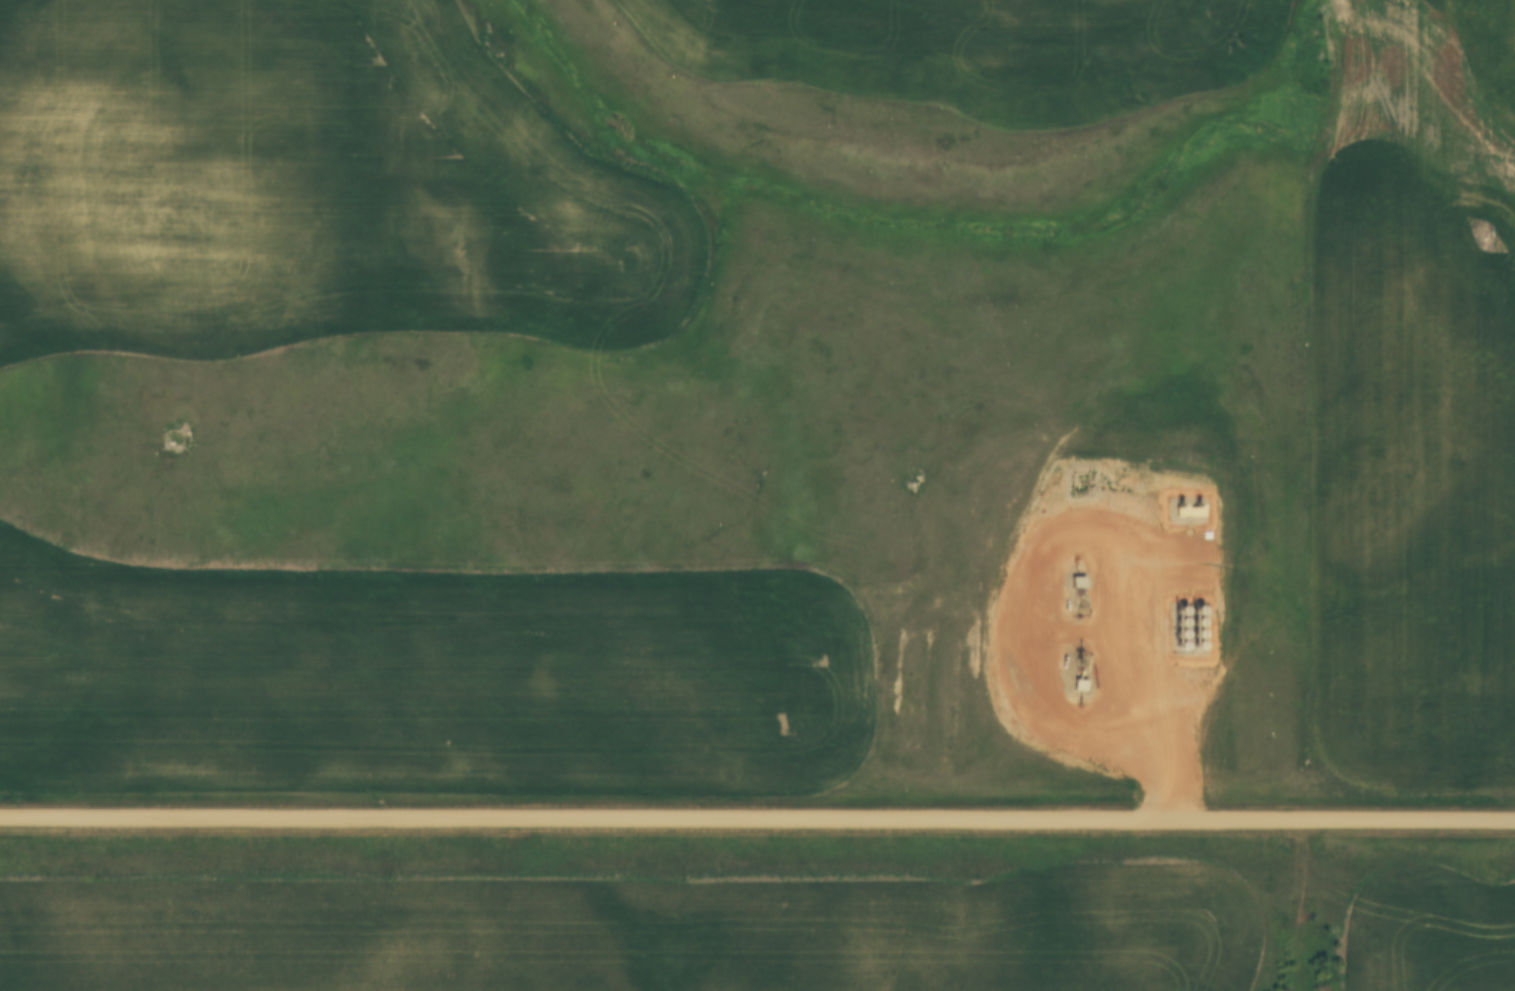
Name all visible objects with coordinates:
road: (757, 816)
road: (1260, 902)

